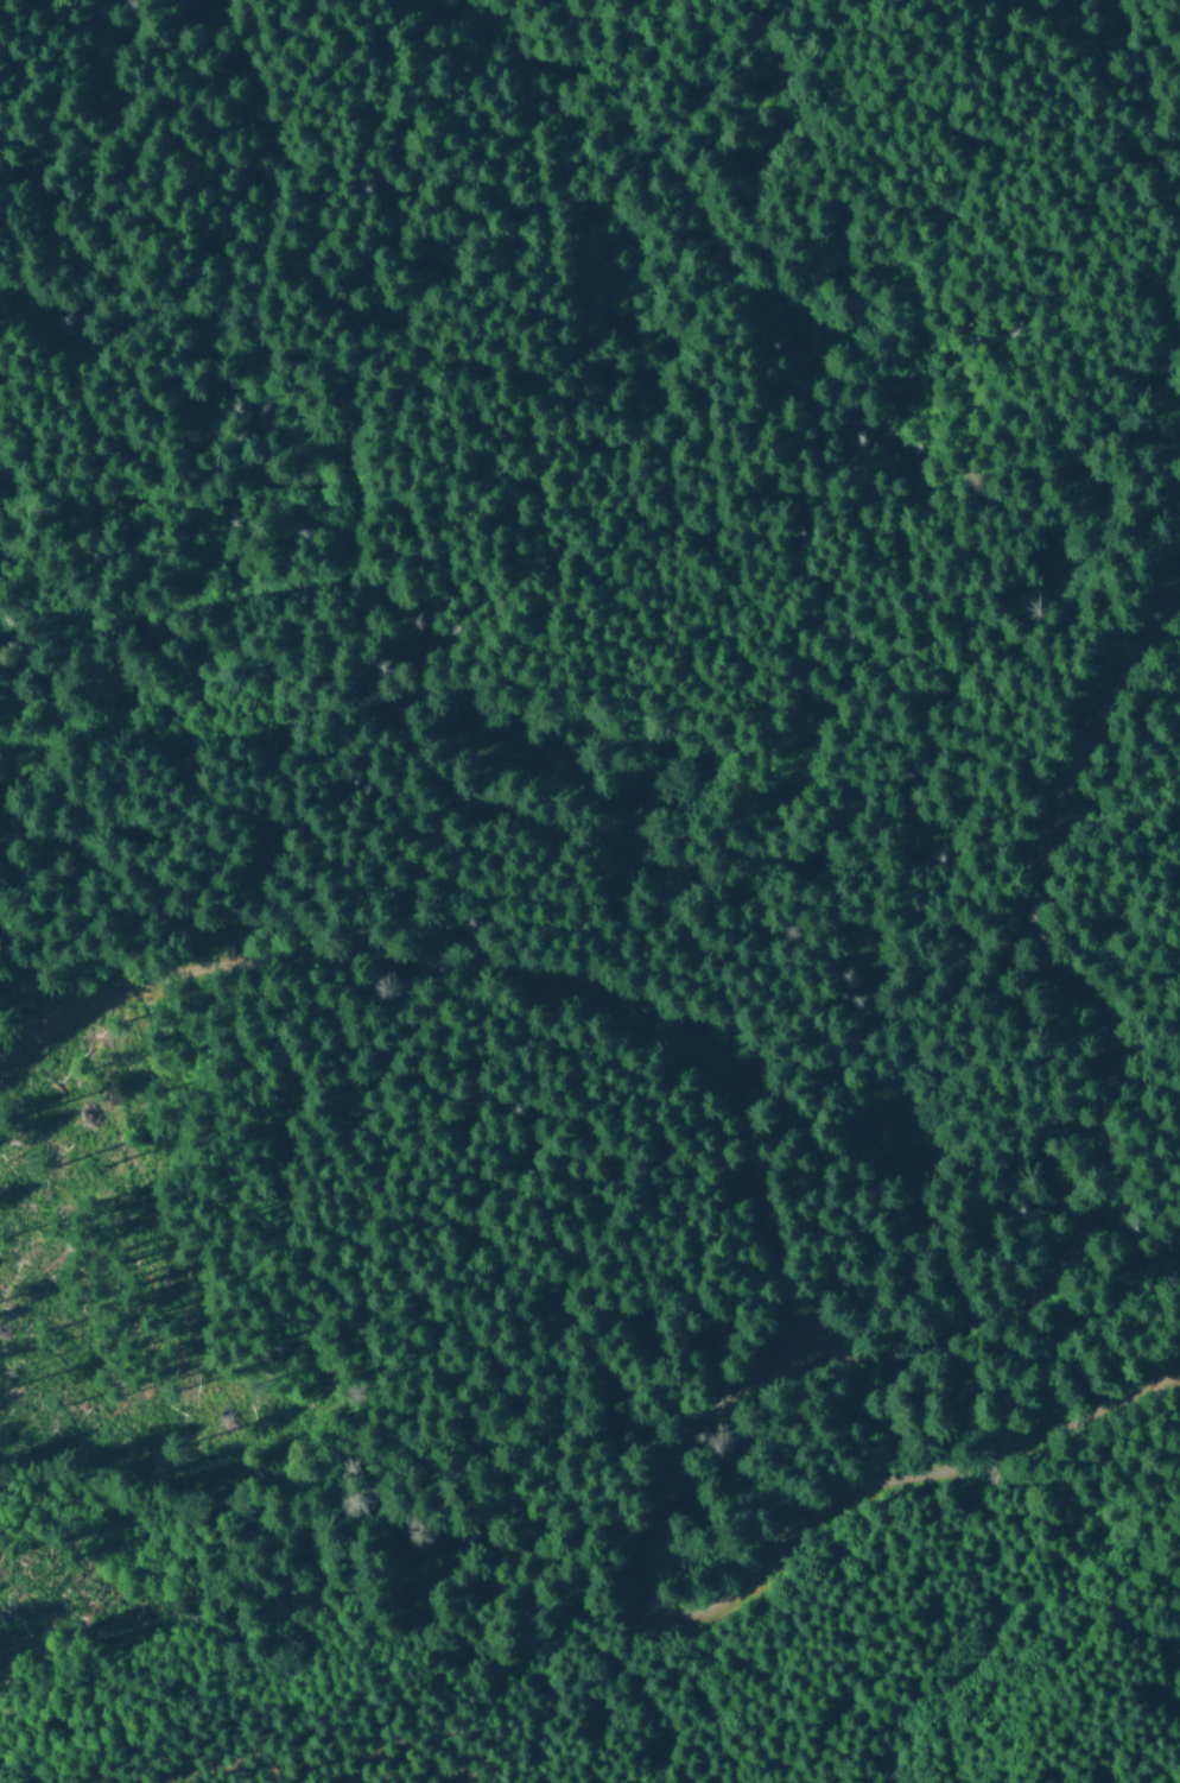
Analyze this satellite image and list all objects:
road: (788, 1259)

